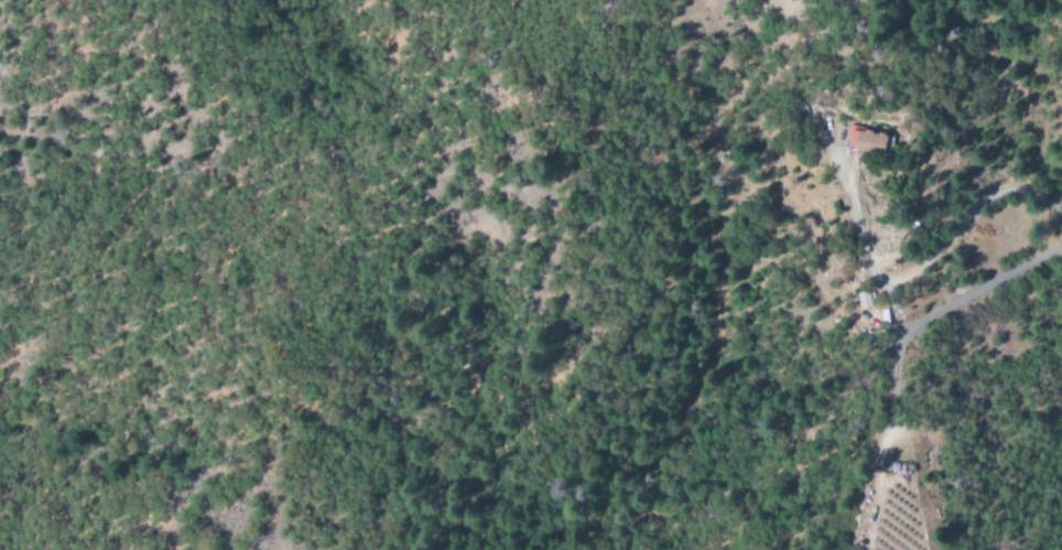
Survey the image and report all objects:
building: (875, 142)
building: (867, 301)

